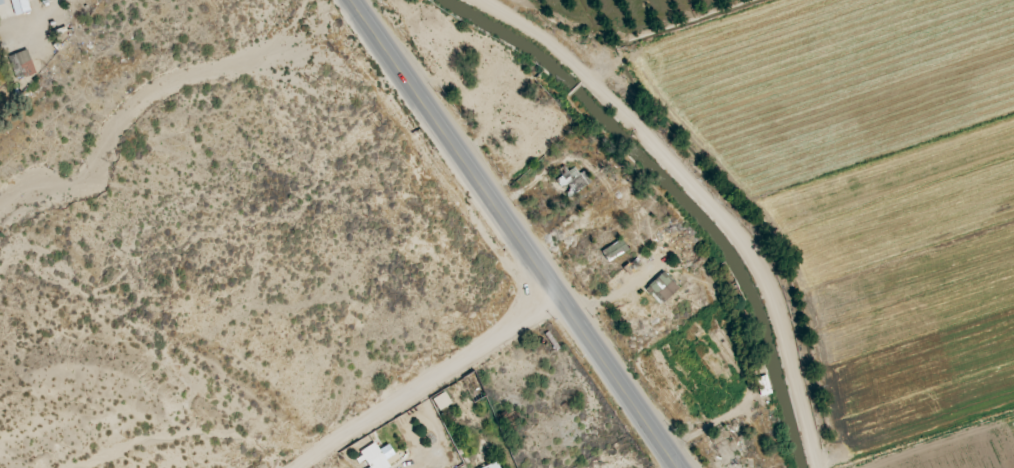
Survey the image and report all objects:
building: (621, 245)
building: (666, 282)
building: (726, 433)

